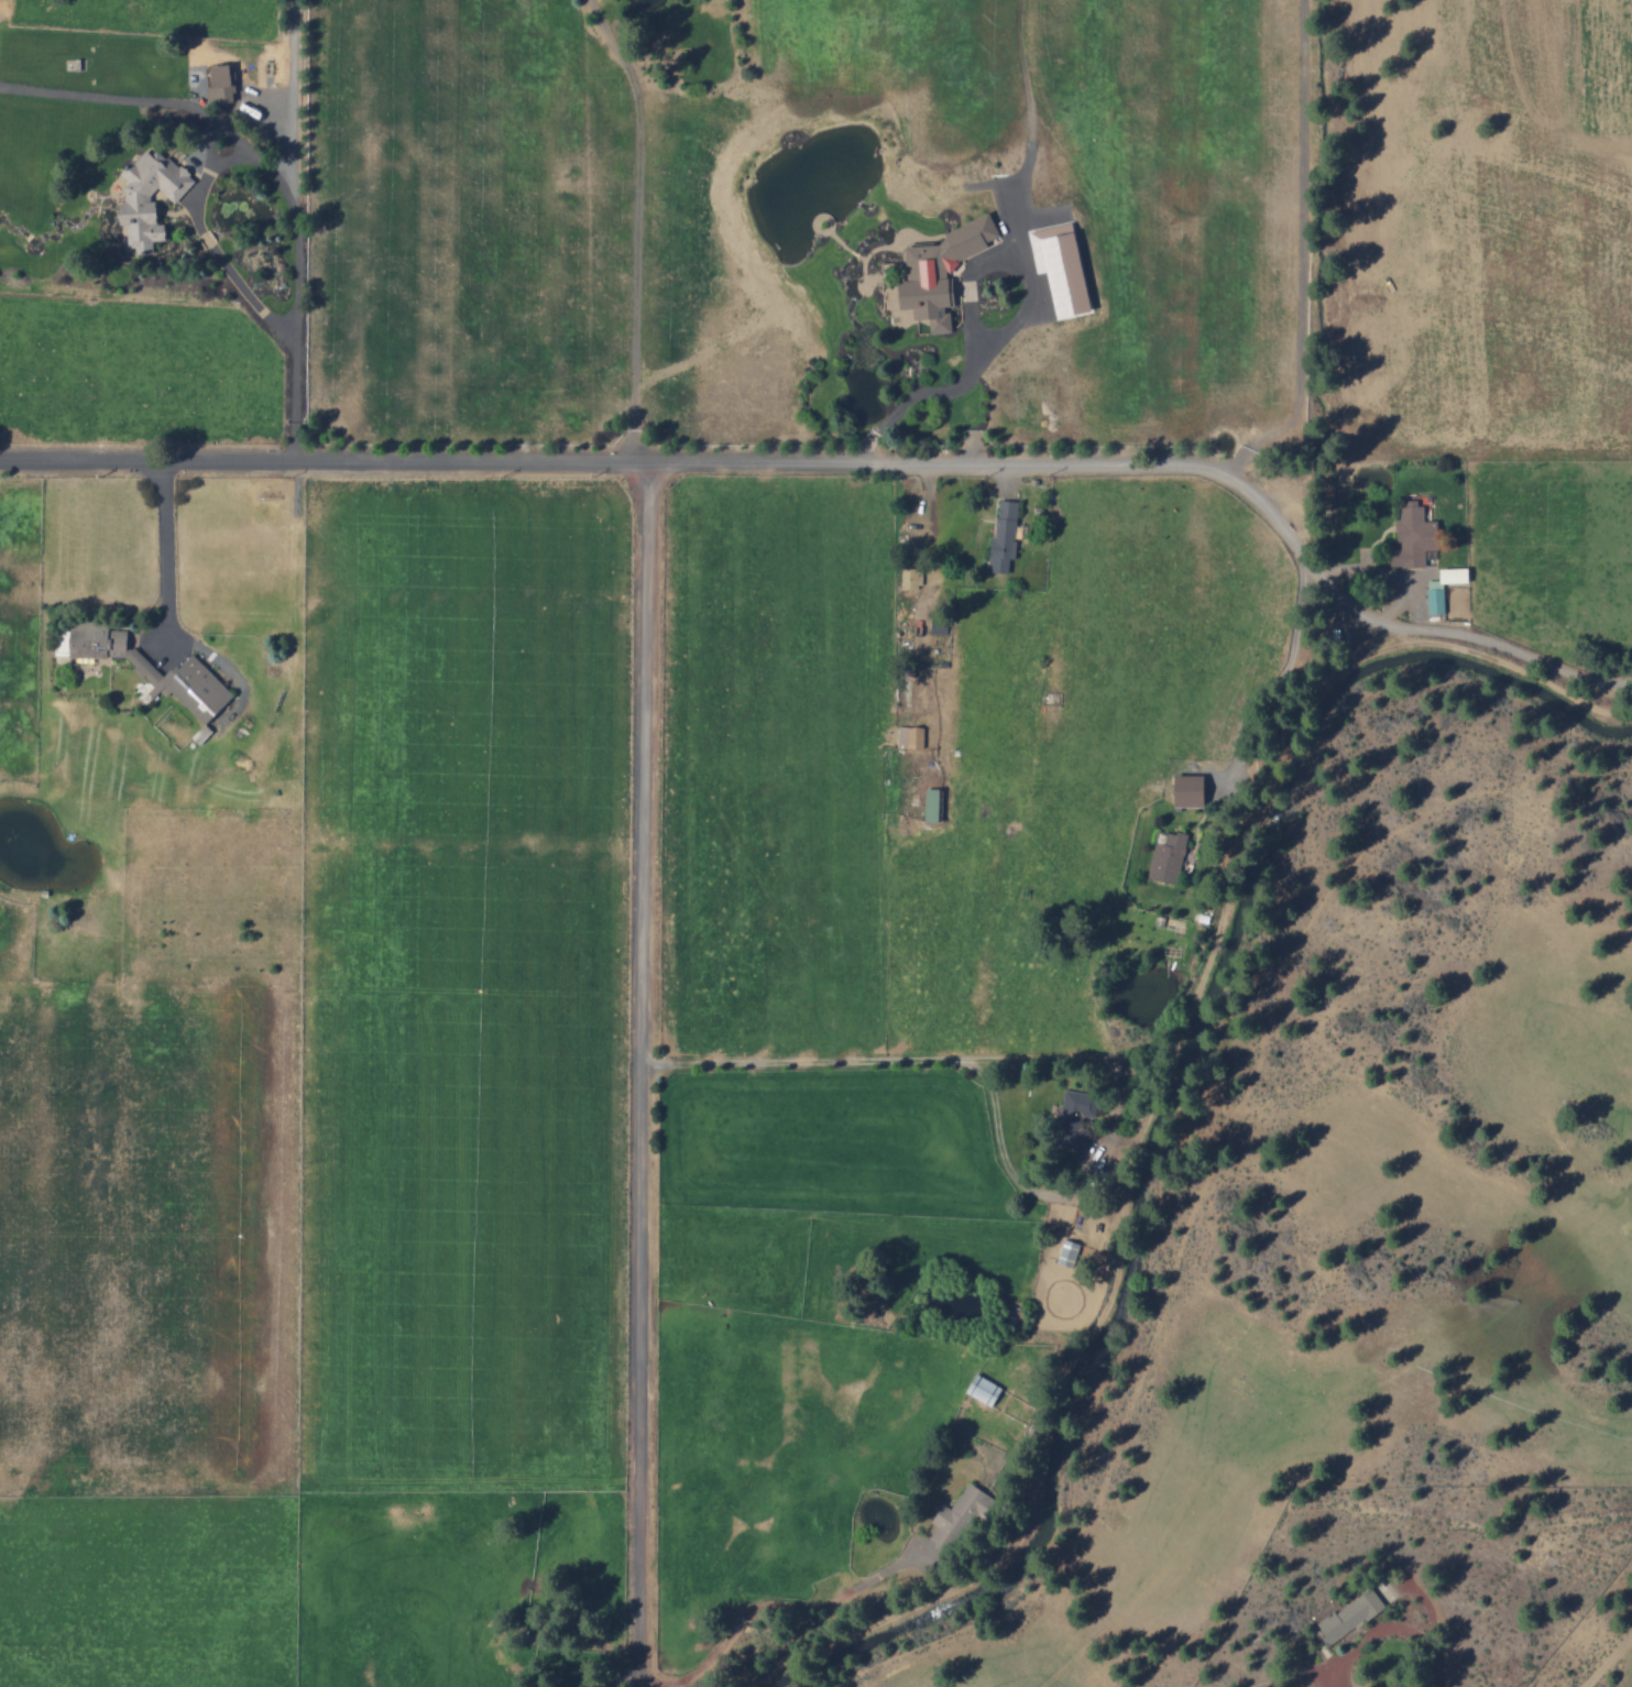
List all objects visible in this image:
building: (223, 84)
building: (140, 198)
crop: (826, 222)
building: (1065, 265)
road: (638, 270)
building: (934, 273)
road: (853, 460)
building: (1006, 534)
building: (1408, 536)
building: (1447, 574)
building: (911, 576)
building: (1431, 596)
road: (931, 614)
building: (158, 671)
building: (911, 735)
building: (1181, 790)
building: (934, 803)
building: (1160, 858)
crop: (524, 1020)
road: (913, 1059)
road: (646, 1073)
building: (1078, 1116)
road: (1449, 1198)
building: (1069, 1250)
building: (959, 1515)
building: (1354, 1613)

